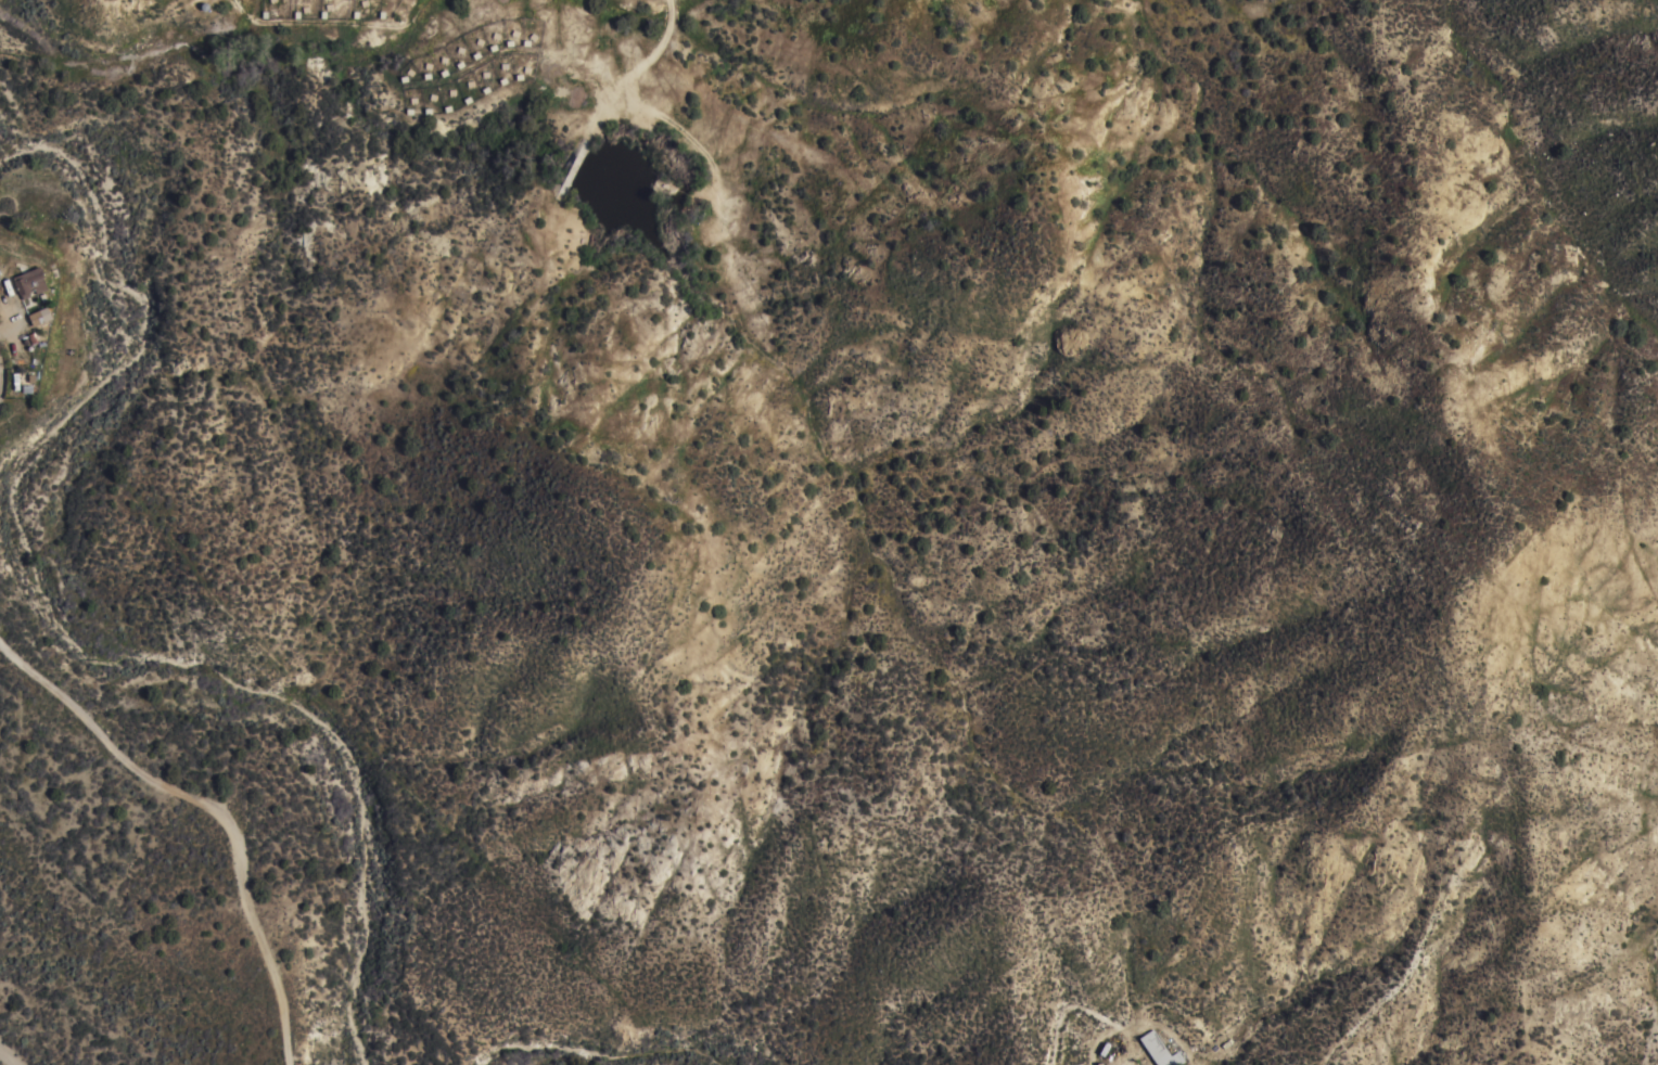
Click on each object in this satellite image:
building: (29, 282)
road: (215, 804)
road: (1162, 1028)
building: (1159, 1050)
road: (1125, 1053)
road: (7, 1058)

